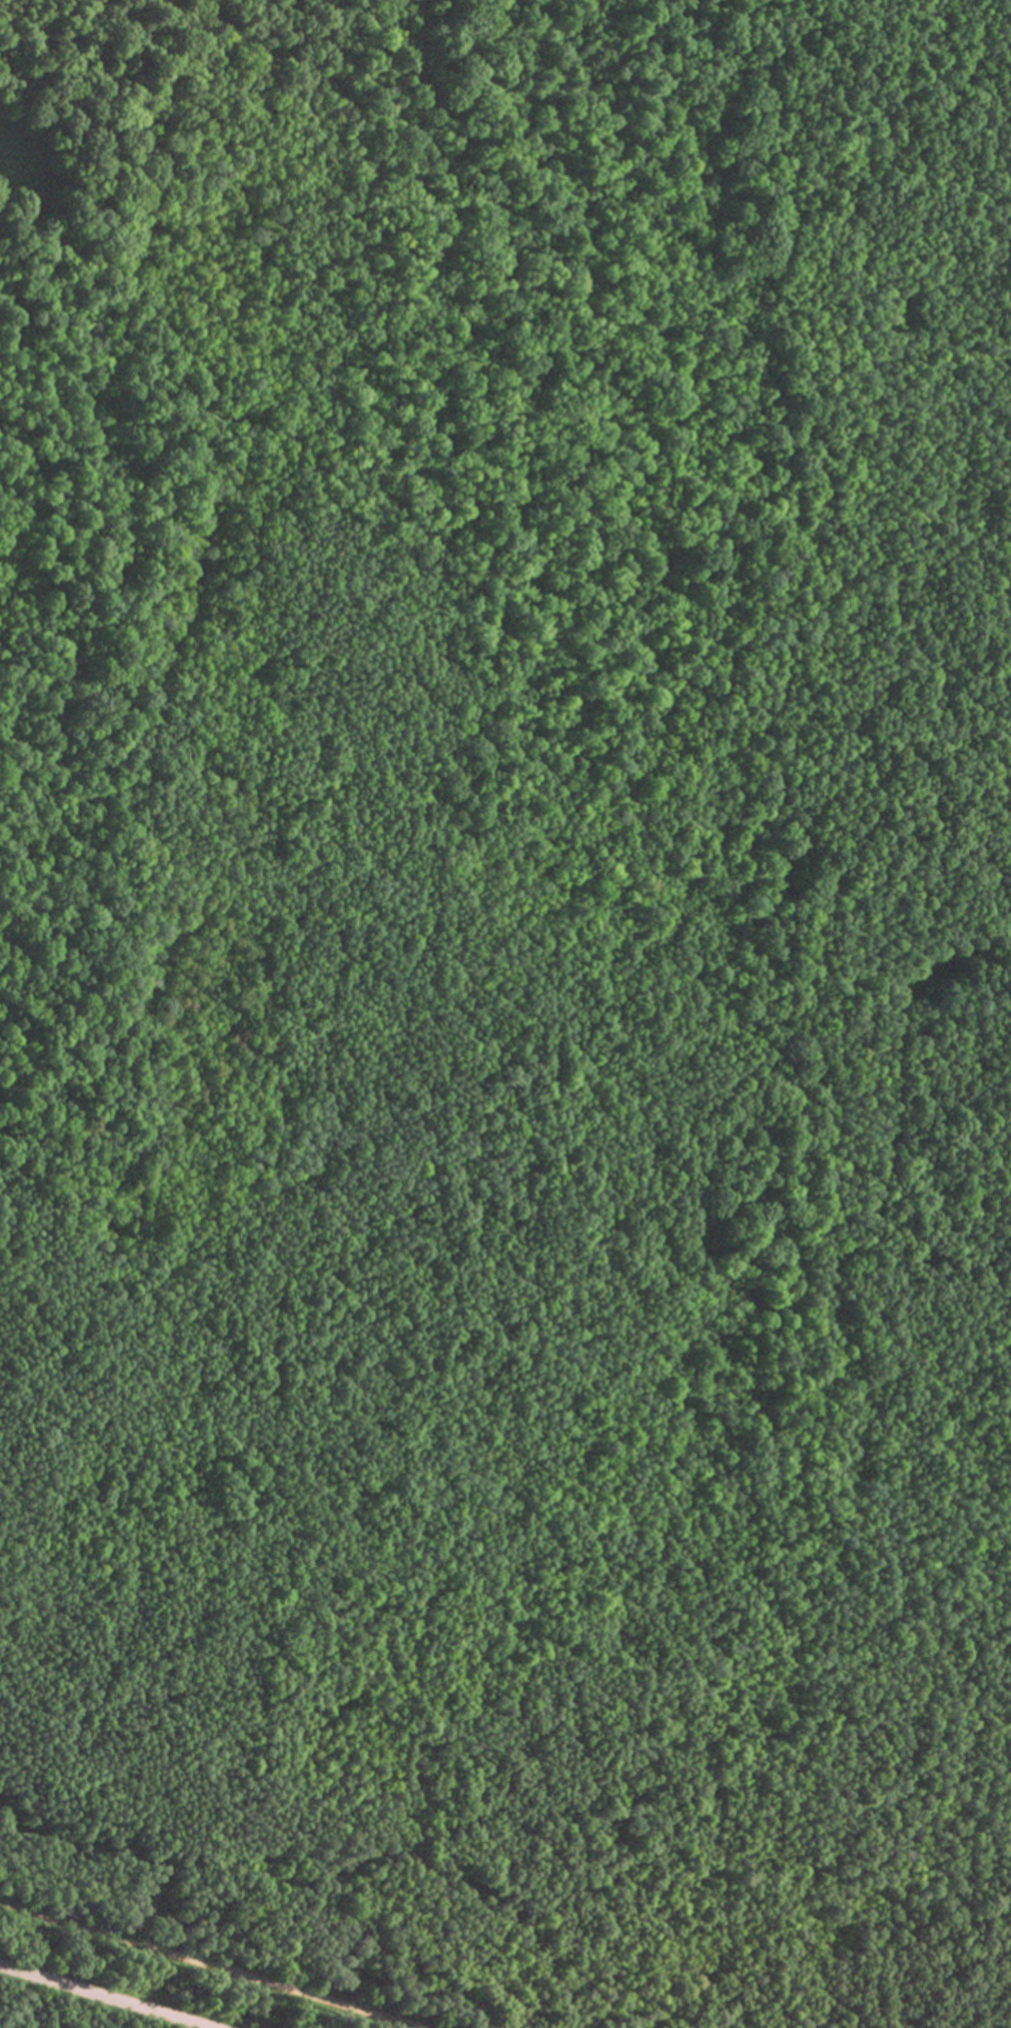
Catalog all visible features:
road: (203, 1966)
road: (107, 1995)

